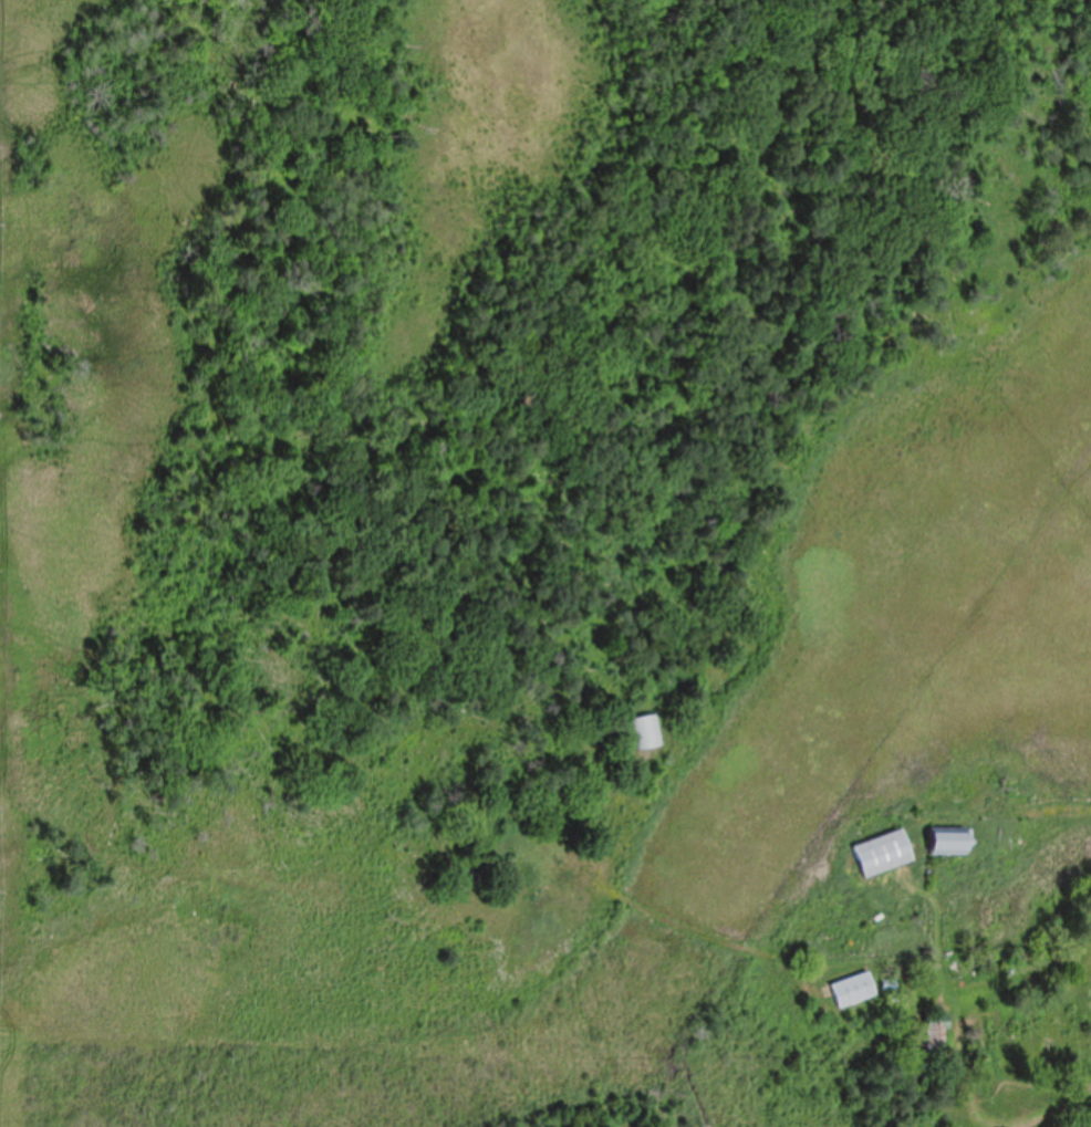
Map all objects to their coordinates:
building: (646, 733)
building: (952, 842)
building: (885, 854)
building: (854, 991)
road: (942, 995)
building: (936, 1032)

